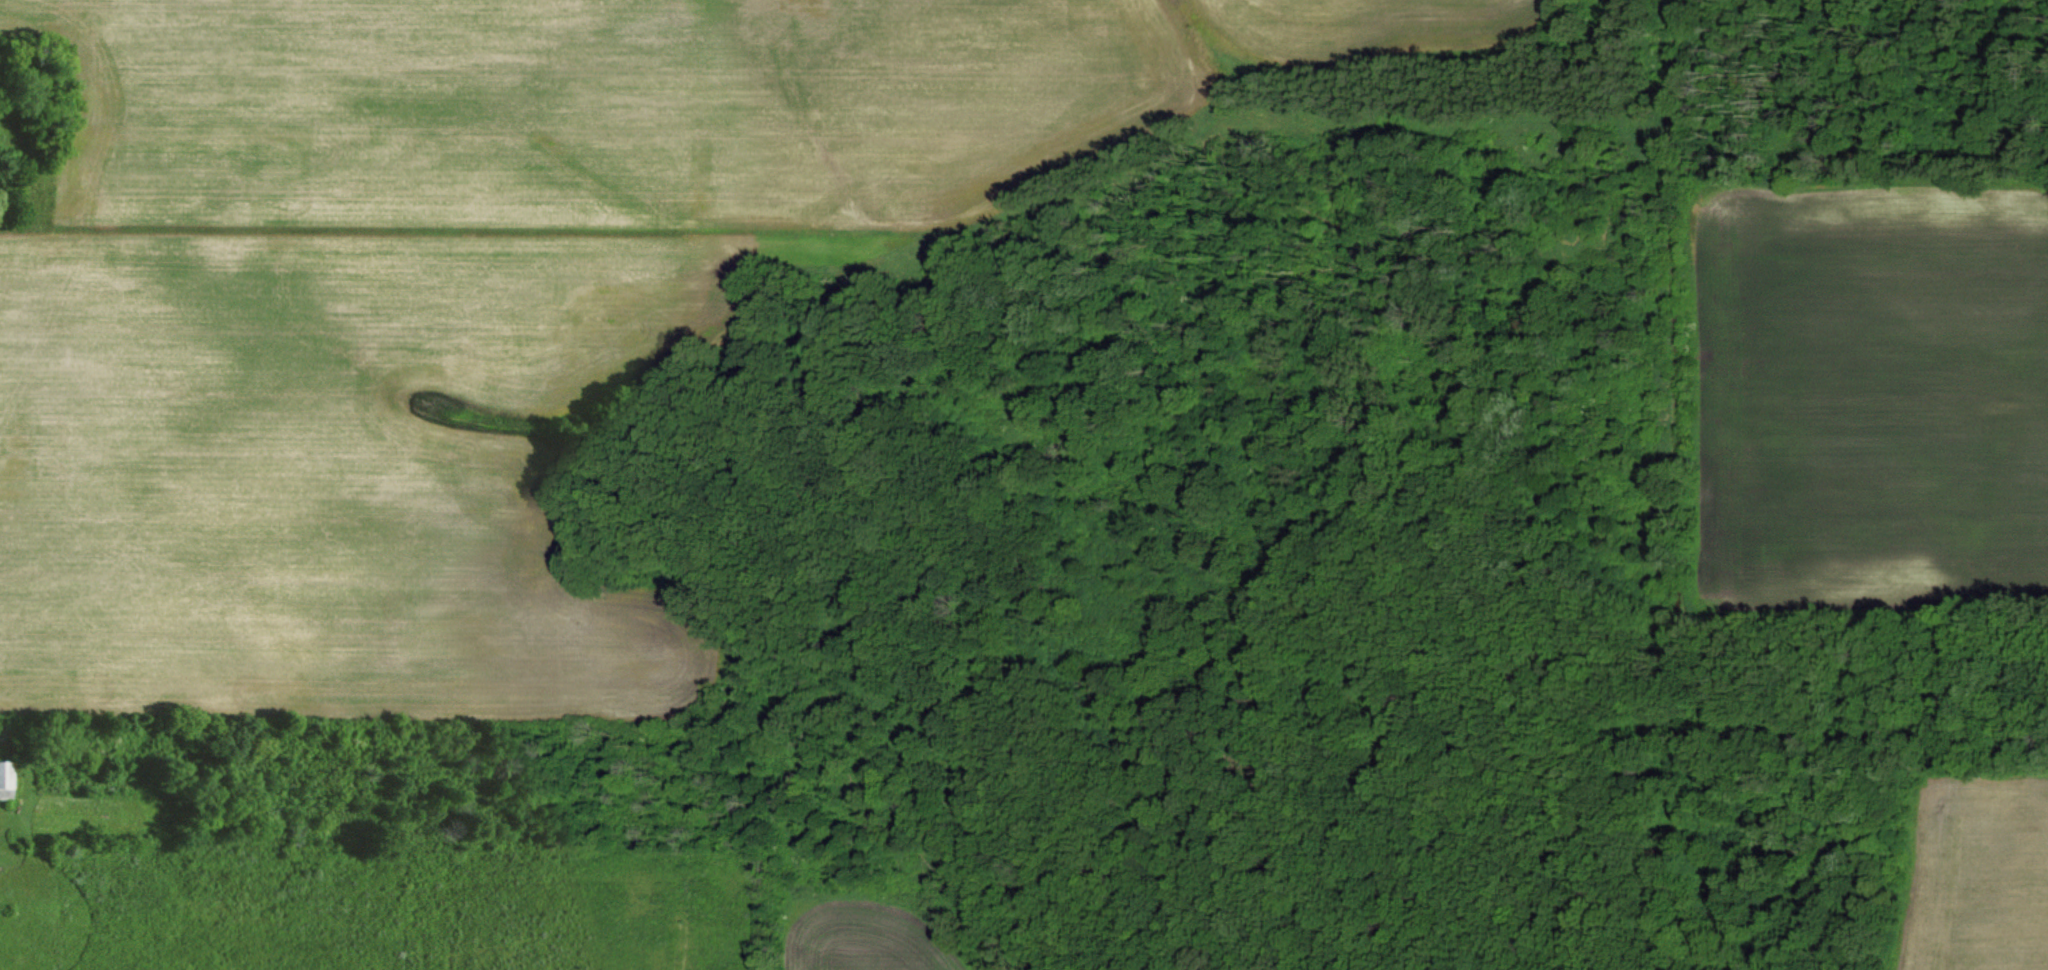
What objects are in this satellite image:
building: (5, 780)

